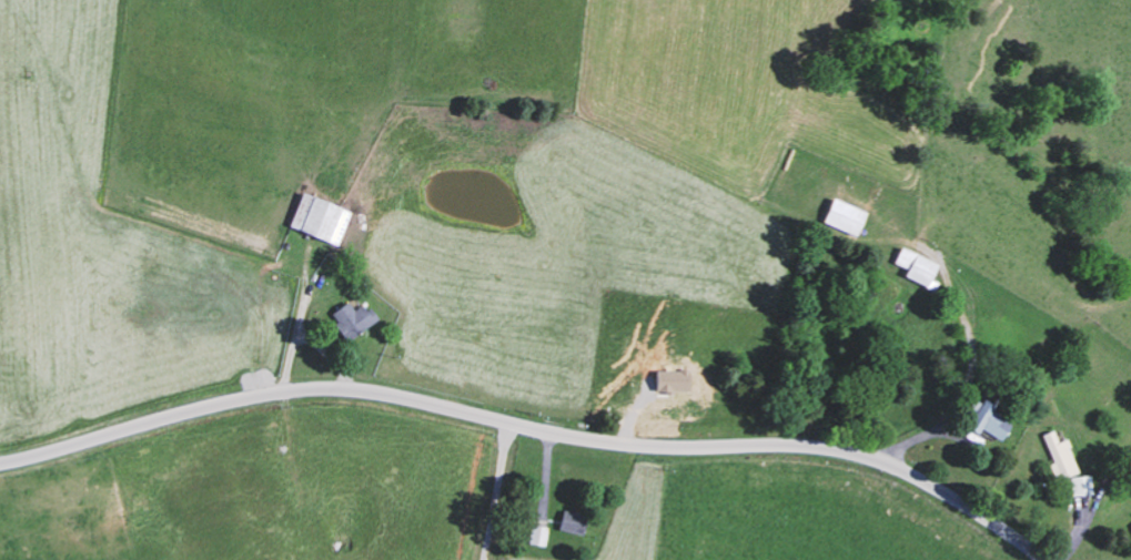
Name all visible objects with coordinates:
building: (841, 215)
building: (319, 216)
building: (915, 266)
building: (351, 317)
building: (983, 418)
road: (529, 428)
building: (1057, 456)
building: (1078, 483)
building: (570, 521)
building: (537, 533)

